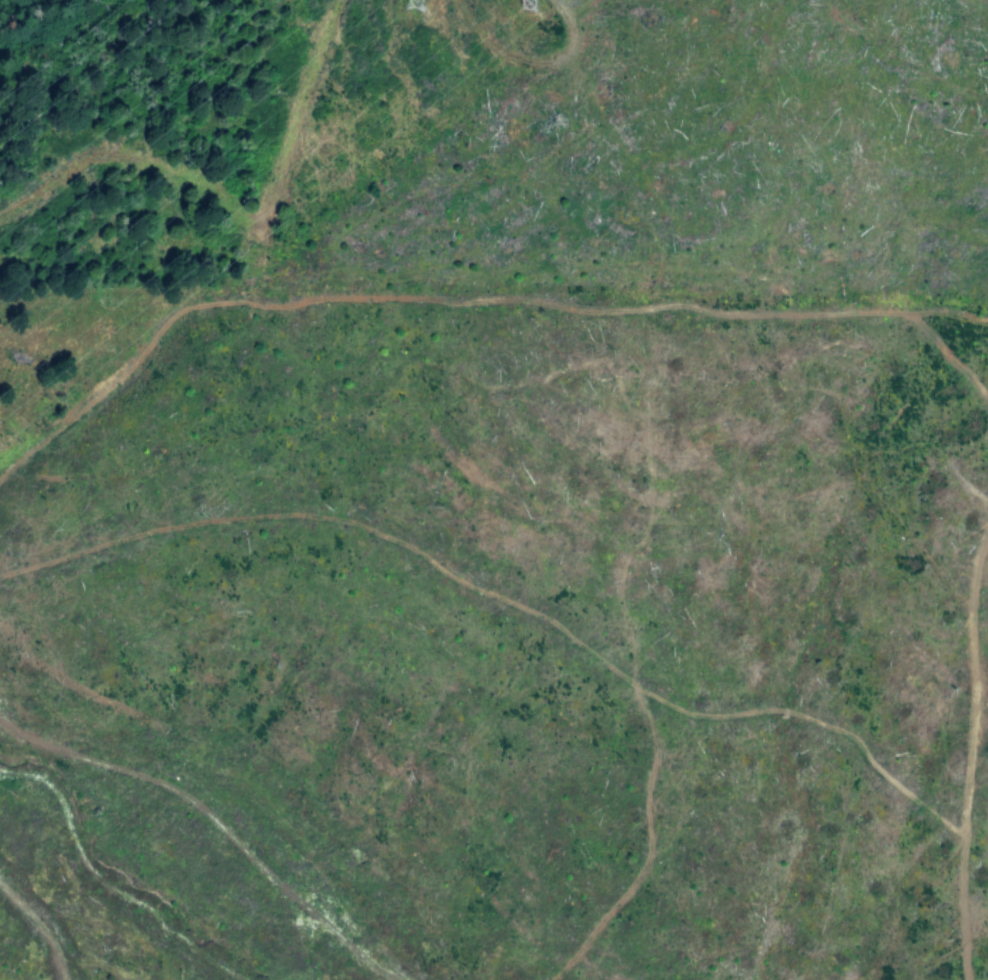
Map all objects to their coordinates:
power tower: (518, 10)

